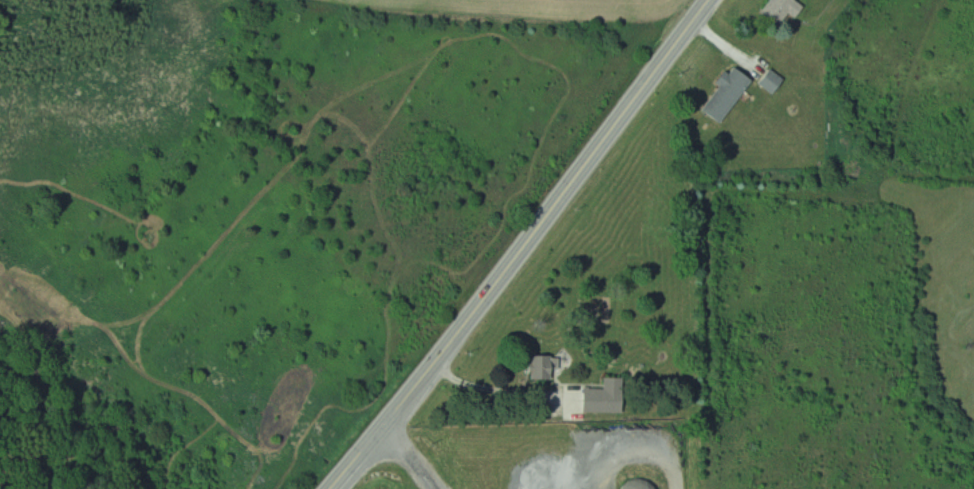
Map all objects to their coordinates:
building: (785, 10)
building: (773, 80)
building: (729, 93)
road: (522, 246)
building: (543, 367)
road: (492, 387)
building: (607, 397)
road: (413, 455)

